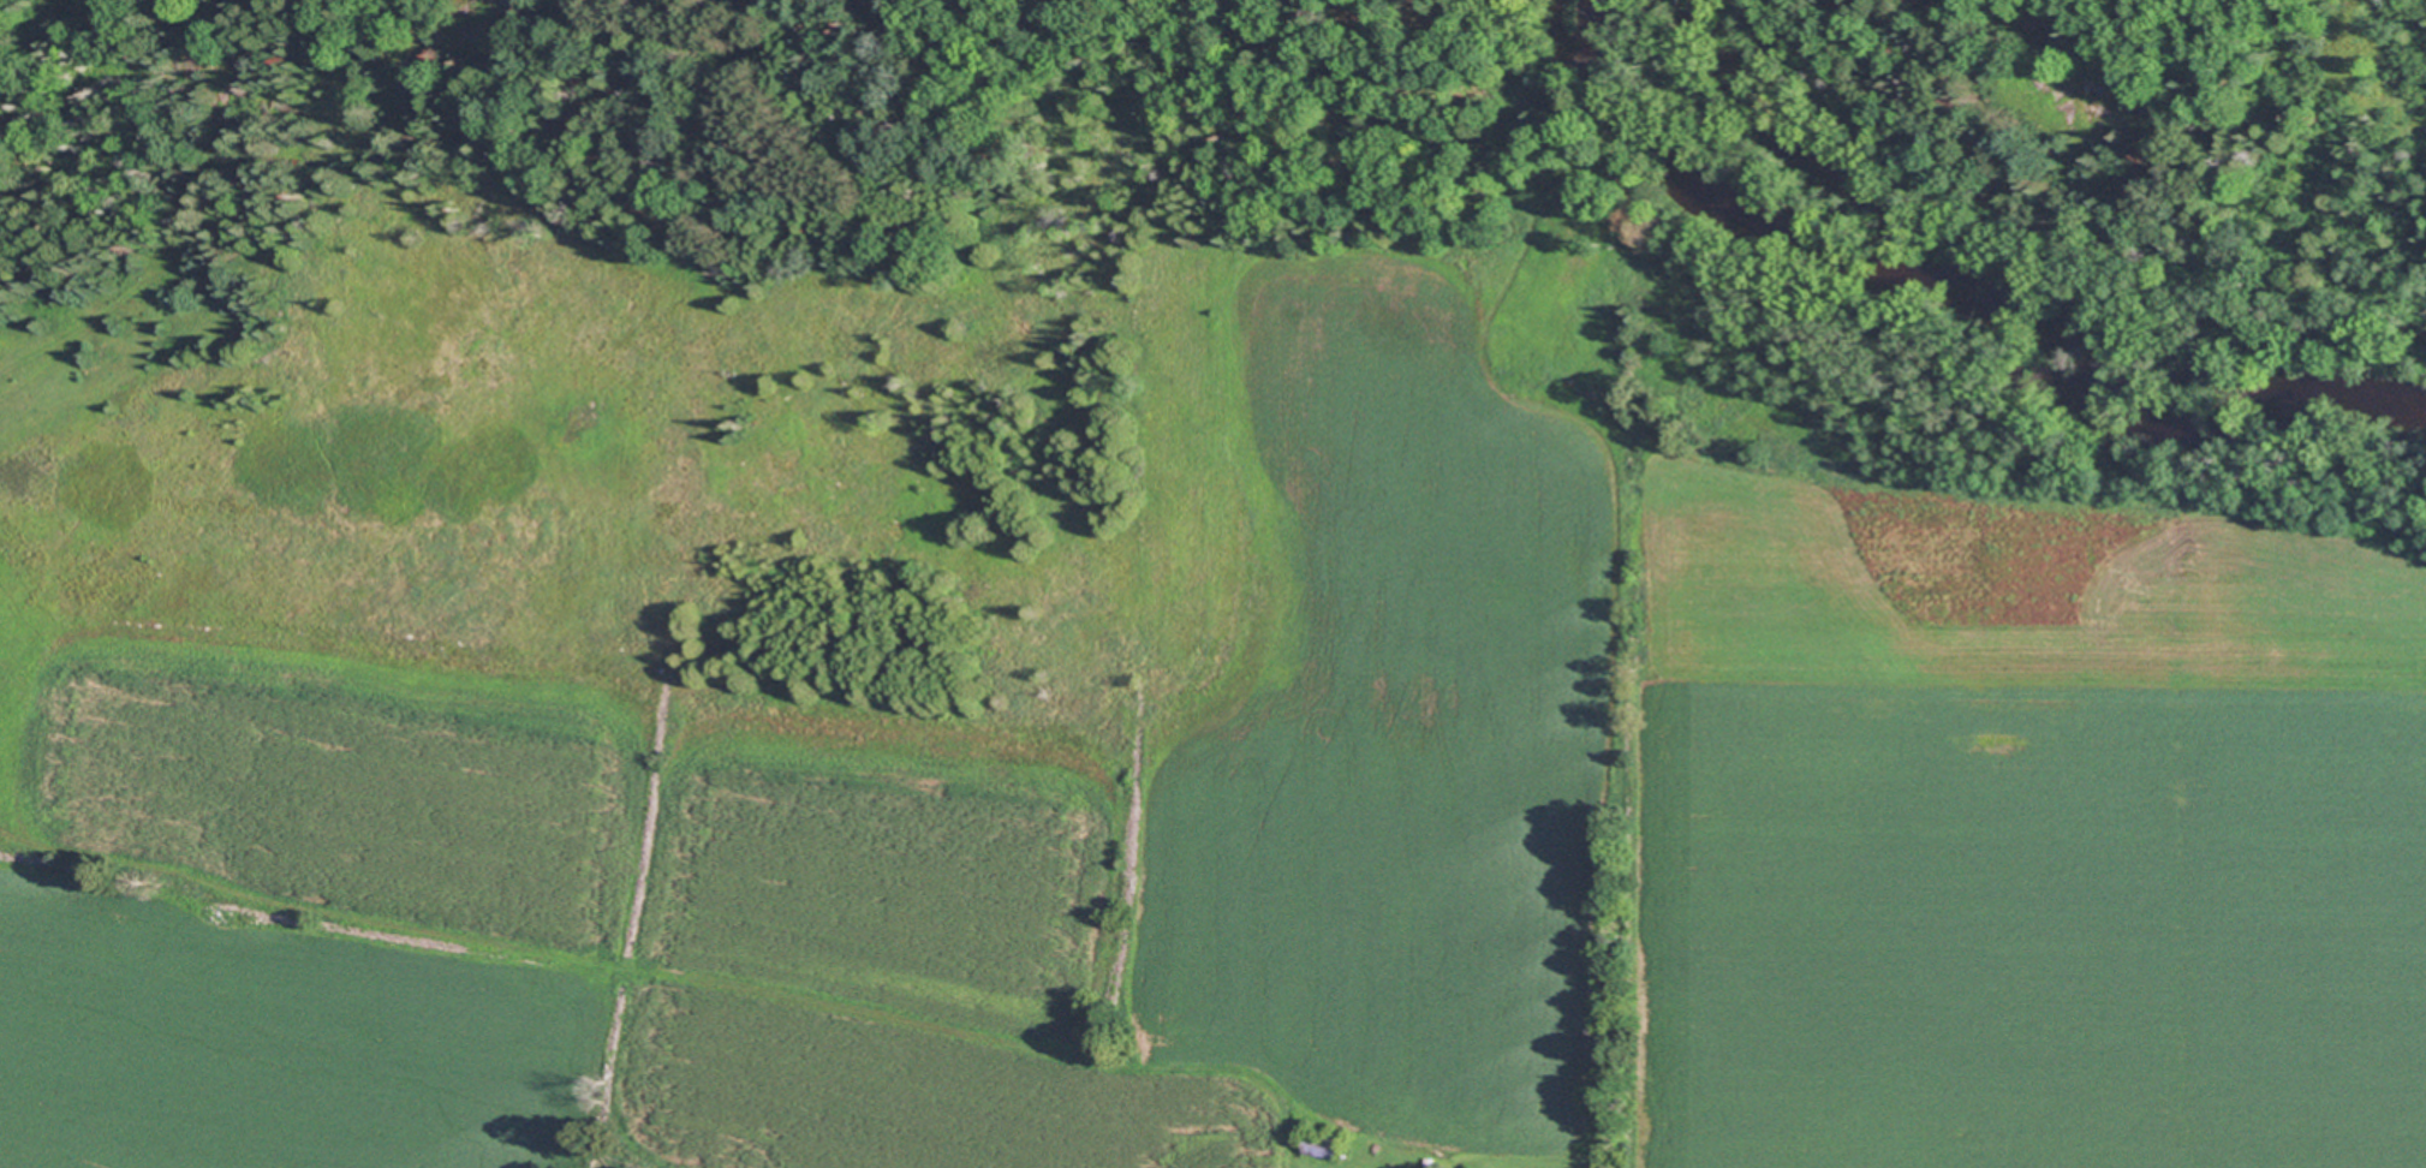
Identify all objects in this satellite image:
building: (2037, 20)
river: (1971, 288)
building: (1323, 1146)

